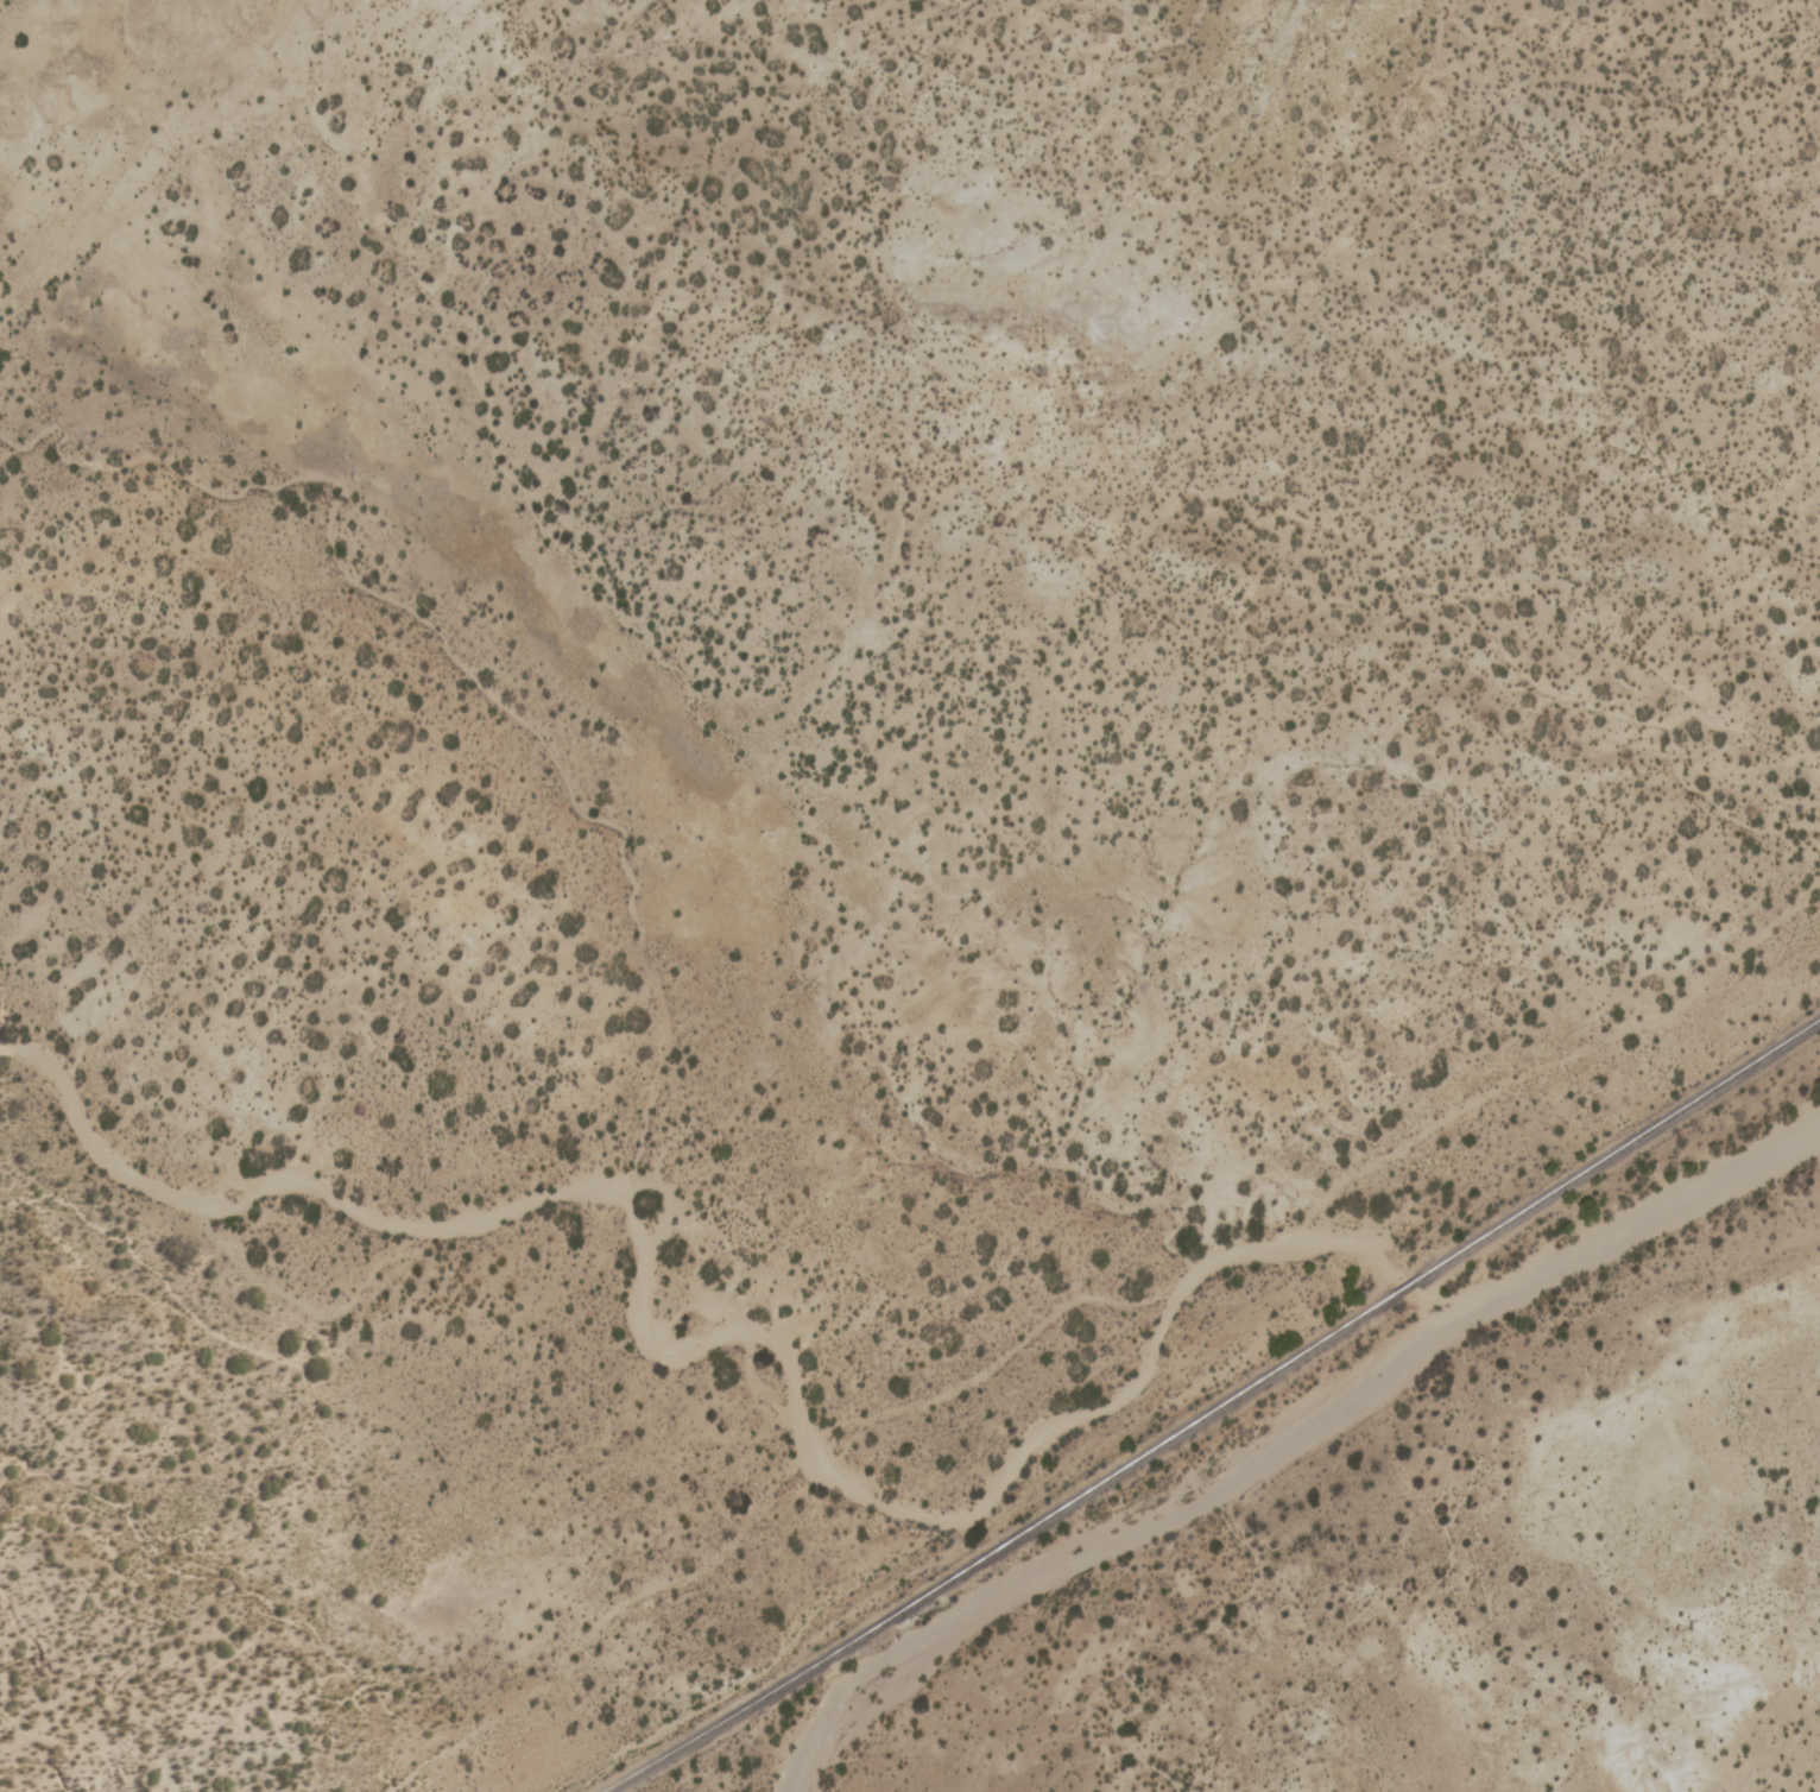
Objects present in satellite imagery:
railway: (1209, 1408)
river: (1295, 1436)

